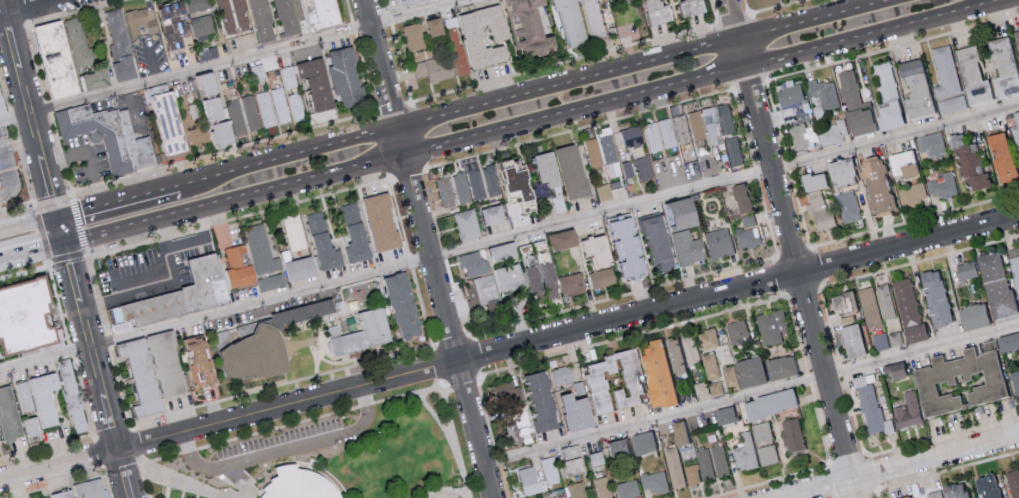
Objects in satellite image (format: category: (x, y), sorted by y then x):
building: (609, 0)
road: (49, 1)
building: (398, 2)
road: (30, 7)
building: (685, 7)
building: (650, 12)
building: (319, 13)
building: (239, 15)
building: (288, 18)
building: (589, 19)
building: (141, 21)
building: (264, 21)
road: (734, 21)
road: (818, 21)
building: (186, 22)
building: (564, 23)
building: (522, 28)
building: (418, 33)
road: (879, 35)
building: (1016, 37)
building: (472, 39)
building: (121, 46)
road: (892, 46)
building: (209, 53)
building: (65, 54)
road: (743, 56)
road: (228, 63)
road: (152, 65)
road: (381, 65)
building: (1002, 67)
building: (431, 70)
building: (944, 71)
building: (971, 76)
building: (288, 77)
building: (348, 77)
building: (98, 79)
building: (209, 82)
building: (319, 83)
road: (750, 83)
road: (569, 86)
building: (849, 88)
building: (914, 89)
building: (790, 92)
building: (823, 95)
building: (886, 98)
building: (951, 103)
building: (1, 107)
building: (216, 107)
building: (272, 107)
building: (295, 107)
building: (193, 111)
road: (133, 113)
road: (576, 113)
road: (32, 116)
road: (776, 117)
building: (857, 118)
building: (238, 122)
building: (170, 123)
building: (695, 125)
building: (711, 125)
building: (1015, 125)
road: (743, 126)
road: (580, 128)
building: (681, 129)
building: (802, 132)
building: (832, 132)
building: (667, 133)
building: (199, 136)
building: (122, 137)
building: (630, 137)
building: (652, 137)
road: (1, 143)
road: (403, 144)
building: (932, 144)
building: (733, 150)
building: (592, 152)
building: (608, 152)
road: (5, 155)
road: (89, 156)
building: (1001, 158)
road: (289, 160)
building: (968, 162)
road: (787, 163)
building: (901, 164)
building: (642, 168)
building: (625, 169)
building: (542, 170)
road: (409, 172)
building: (567, 172)
road: (756, 172)
building: (840, 172)
road: (144, 174)
building: (473, 179)
building: (489, 180)
building: (508, 181)
building: (812, 181)
building: (942, 185)
building: (876, 187)
building: (460, 188)
building: (443, 191)
building: (602, 192)
building: (912, 194)
building: (741, 198)
road: (236, 201)
road: (119, 204)
building: (848, 206)
road: (799, 209)
building: (819, 211)
road: (398, 214)
building: (675, 214)
building: (488, 215)
road: (768, 217)
road: (239, 218)
road: (914, 219)
traffic signals: (60, 220)
building: (748, 220)
building: (384, 222)
building: (317, 223)
building: (466, 225)
road: (220, 226)
road: (30, 227)
building: (357, 234)
road: (509, 235)
building: (747, 237)
road: (199, 238)
building: (558, 239)
building: (717, 243)
building: (654, 244)
traffic signals: (66, 246)
building: (622, 247)
building: (686, 248)
building: (262, 251)
building: (593, 251)
building: (328, 252)
building: (498, 252)
road: (794, 252)
road: (33, 254)
road: (446, 257)
road: (411, 261)
building: (470, 265)
road: (814, 266)
building: (239, 268)
building: (1015, 268)
building: (303, 269)
building: (965, 269)
road: (881, 270)
road: (24, 271)
road: (130, 271)
road: (781, 274)
building: (600, 278)
building: (543, 281)
building: (273, 282)
building: (494, 283)
road: (803, 283)
building: (527, 284)
building: (569, 284)
building: (994, 284)
road: (802, 288)
road: (97, 292)
building: (183, 295)
road: (624, 295)
building: (934, 298)
road: (456, 300)
building: (844, 300)
building: (885, 300)
road: (58, 301)
building: (870, 305)
building: (406, 306)
road: (423, 307)
building: (908, 308)
building: (973, 314)
building: (118, 315)
building: (24, 317)
building: (771, 325)
road: (452, 327)
building: (120, 328)
building: (737, 330)
road: (797, 332)
building: (367, 333)
road: (633, 335)
building: (850, 336)
building: (708, 338)
road: (110, 340)
building: (880, 340)
building: (1007, 340)
road: (453, 341)
building: (691, 349)
road: (71, 350)
road: (510, 351)
building: (371, 352)
building: (673, 354)
road: (476, 355)
building: (252, 358)
building: (202, 362)
road: (439, 364)
road: (96, 365)
building: (169, 365)
building: (710, 365)
building: (779, 365)
road: (841, 369)
building: (892, 369)
building: (655, 372)
building: (743, 372)
building: (560, 375)
building: (144, 377)
park: (273, 377)
road: (809, 377)
road: (461, 378)
building: (628, 380)
road: (280, 384)
road: (122, 385)
road: (427, 388)
building: (707, 388)
building: (504, 392)
road: (753, 393)
building: (73, 396)
road: (82, 396)
building: (26, 397)
building: (48, 398)
building: (537, 400)
building: (768, 402)
building: (871, 406)
building: (906, 410)
building: (568, 411)
building: (725, 413)
road: (486, 414)
building: (10, 415)
road: (853, 416)
road: (439, 422)
road: (820, 423)
road: (278, 426)
building: (34, 427)
building: (761, 431)
building: (678, 432)
building: (510, 433)
building: (792, 433)
road: (943, 435)
road: (98, 437)
road: (455, 439)
building: (669, 439)
building: (641, 441)
parking lot: (282, 442)
road: (136, 443)
road: (49, 445)
building: (616, 447)
park: (332, 450)
road: (288, 451)
building: (715, 451)
building: (746, 451)
building: (768, 454)
building: (595, 457)
road: (848, 458)
road: (498, 459)
road: (141, 460)
building: (568, 461)
road: (121, 463)
building: (705, 463)
road: (894, 465)
building: (674, 467)
road: (948, 469)
building: (548, 470)
road: (872, 471)
building: (692, 474)
road: (147, 480)
road: (178, 480)
building: (528, 480)
road: (833, 480)
building: (654, 481)
road: (768, 481)
road: (105, 482)
road: (504, 482)
building: (1013, 482)
building: (300, 484)
road: (56, 485)
building: (985, 486)
building: (602, 487)
road: (445, 488)
building: (91, 489)
building: (627, 489)
building: (577, 490)
building: (955, 490)
road: (857, 493)
road: (878, 493)
building: (64, 495)
building: (932, 495)
building: (902, 496)
building: (562, 497)

